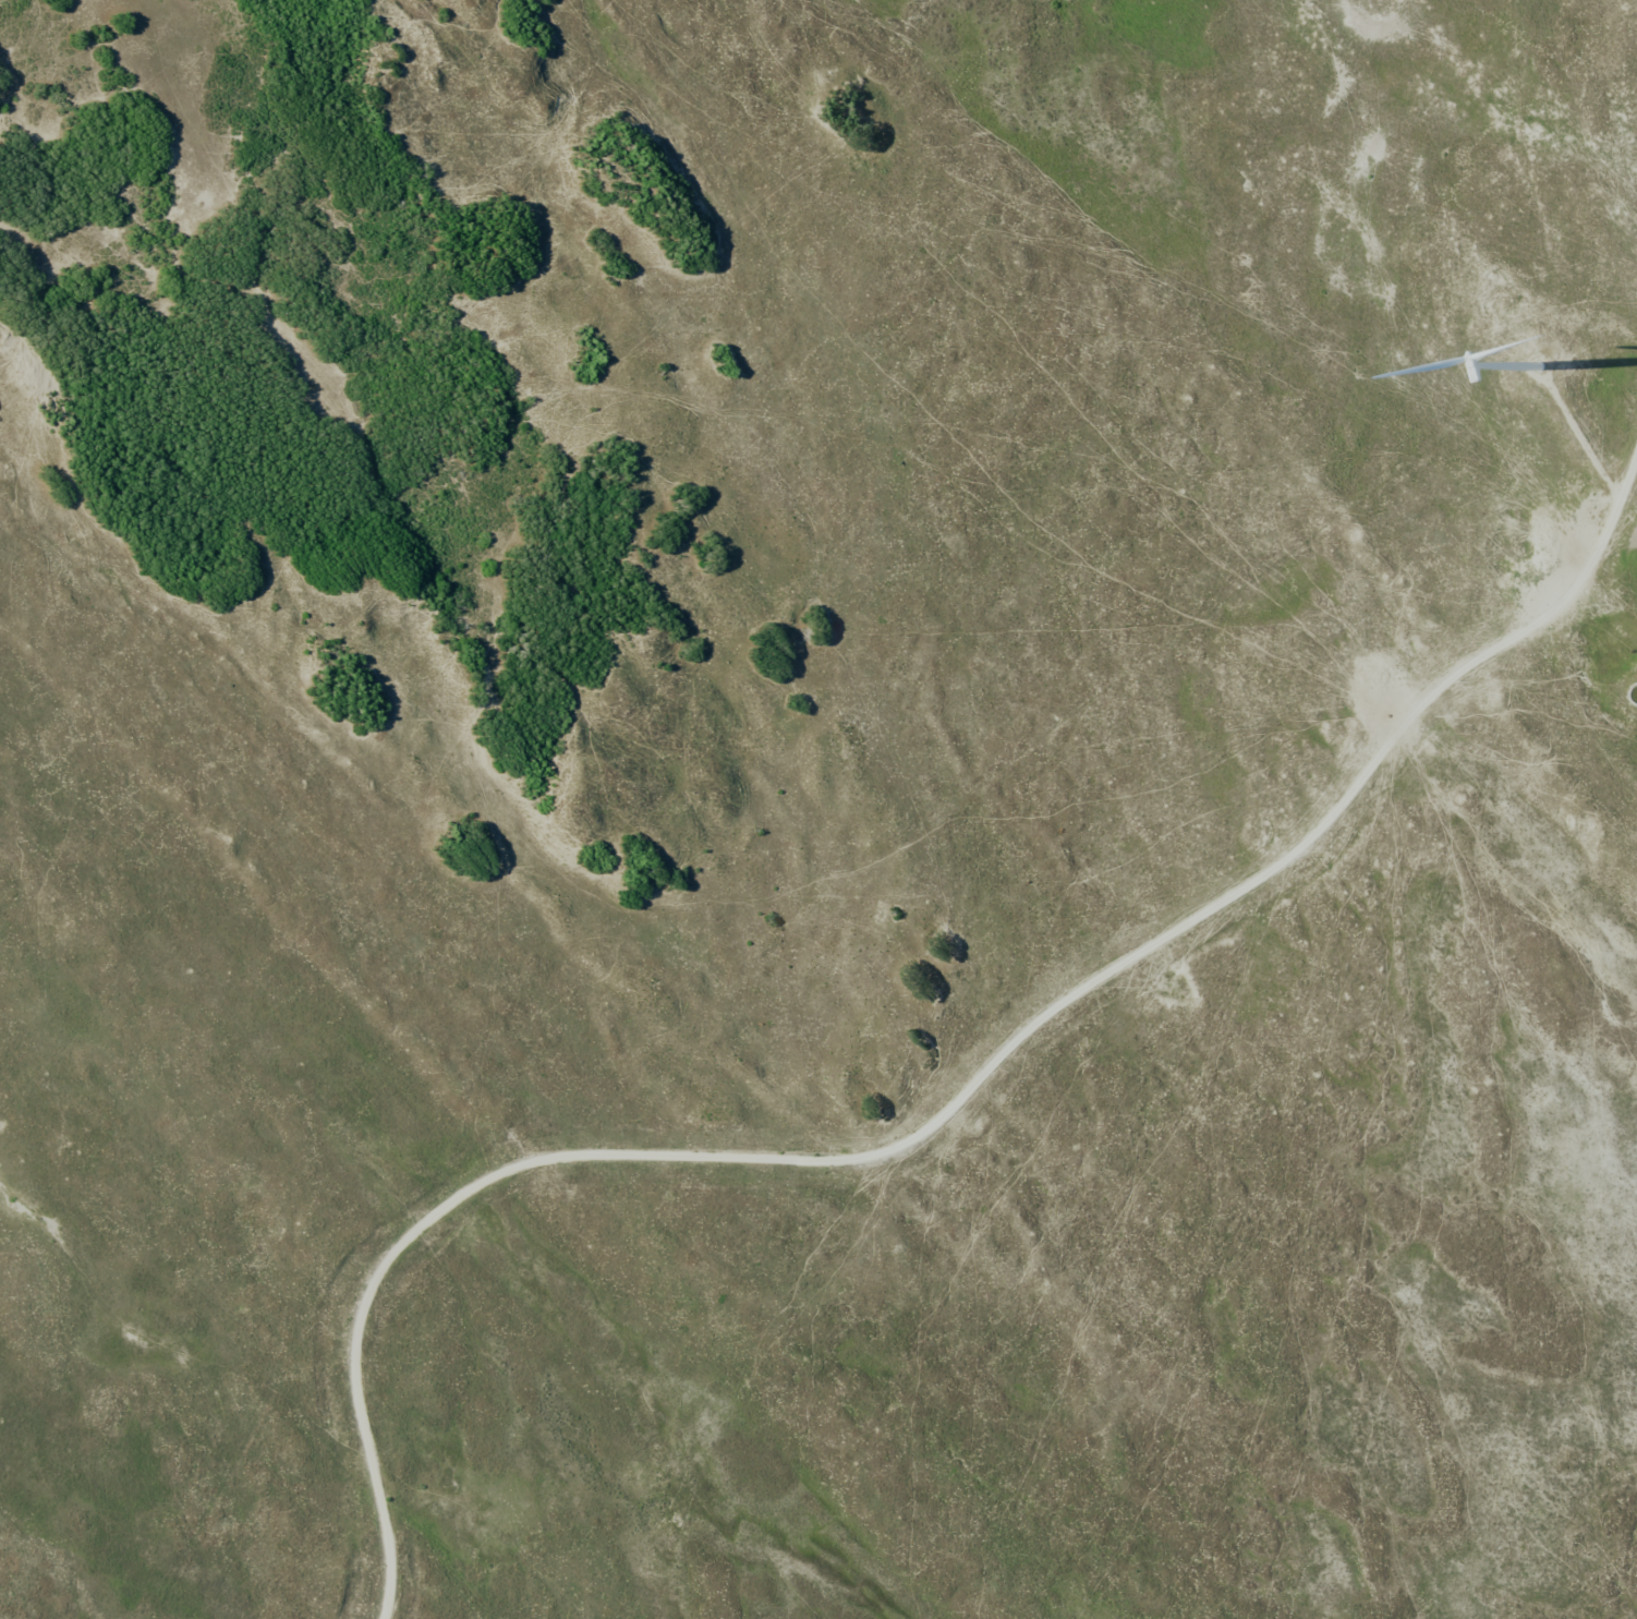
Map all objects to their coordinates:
wind turbine: (1548, 364)

